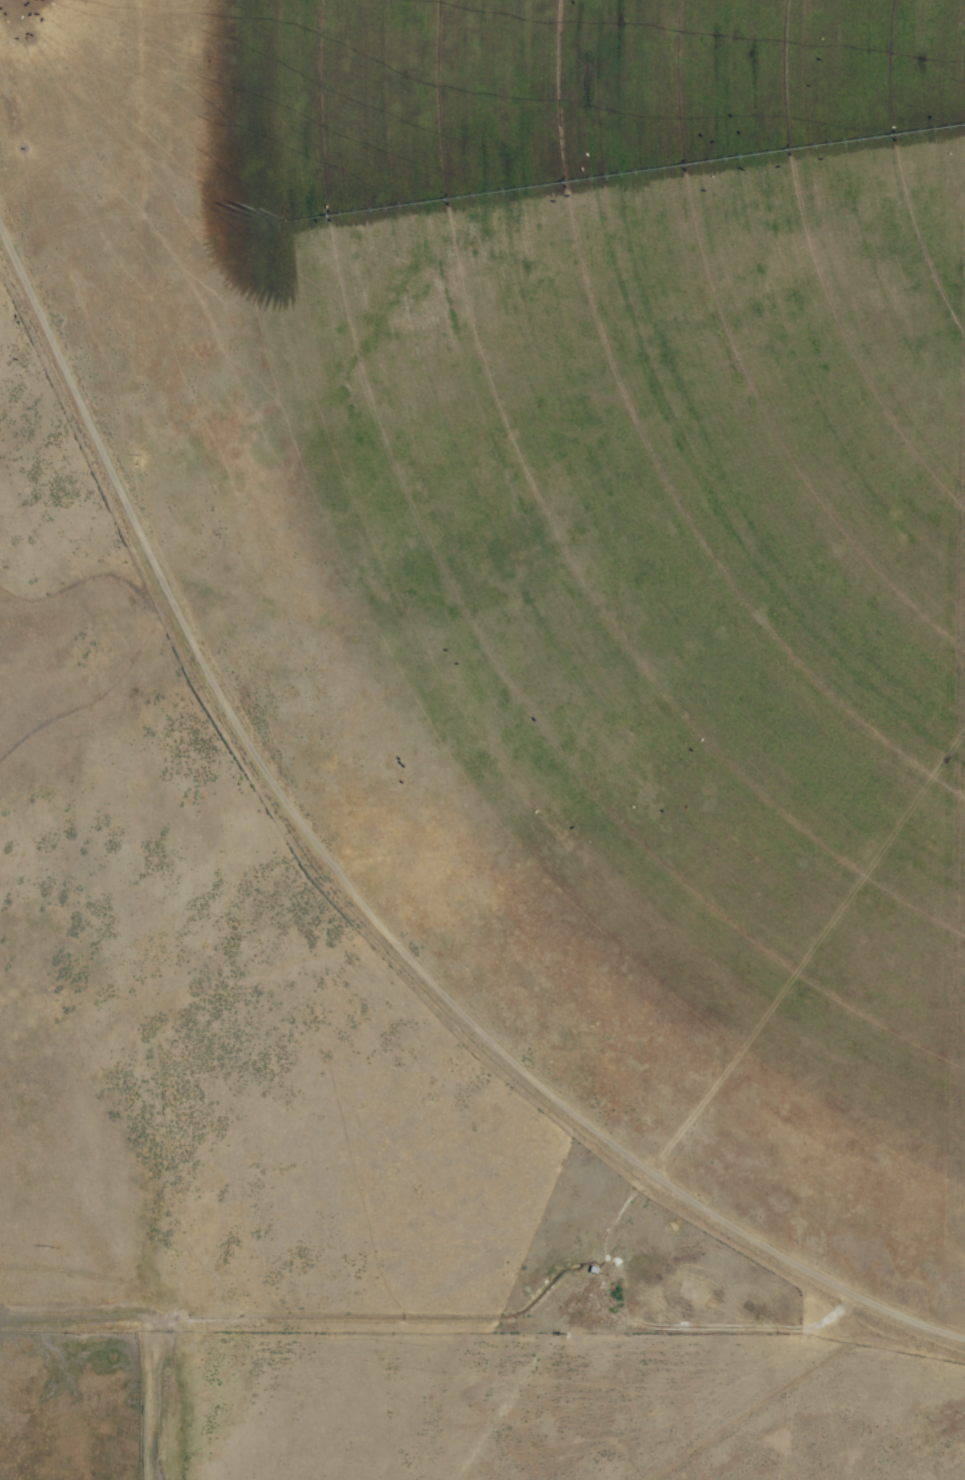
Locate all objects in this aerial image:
crop: (482, 740)
road: (354, 896)

